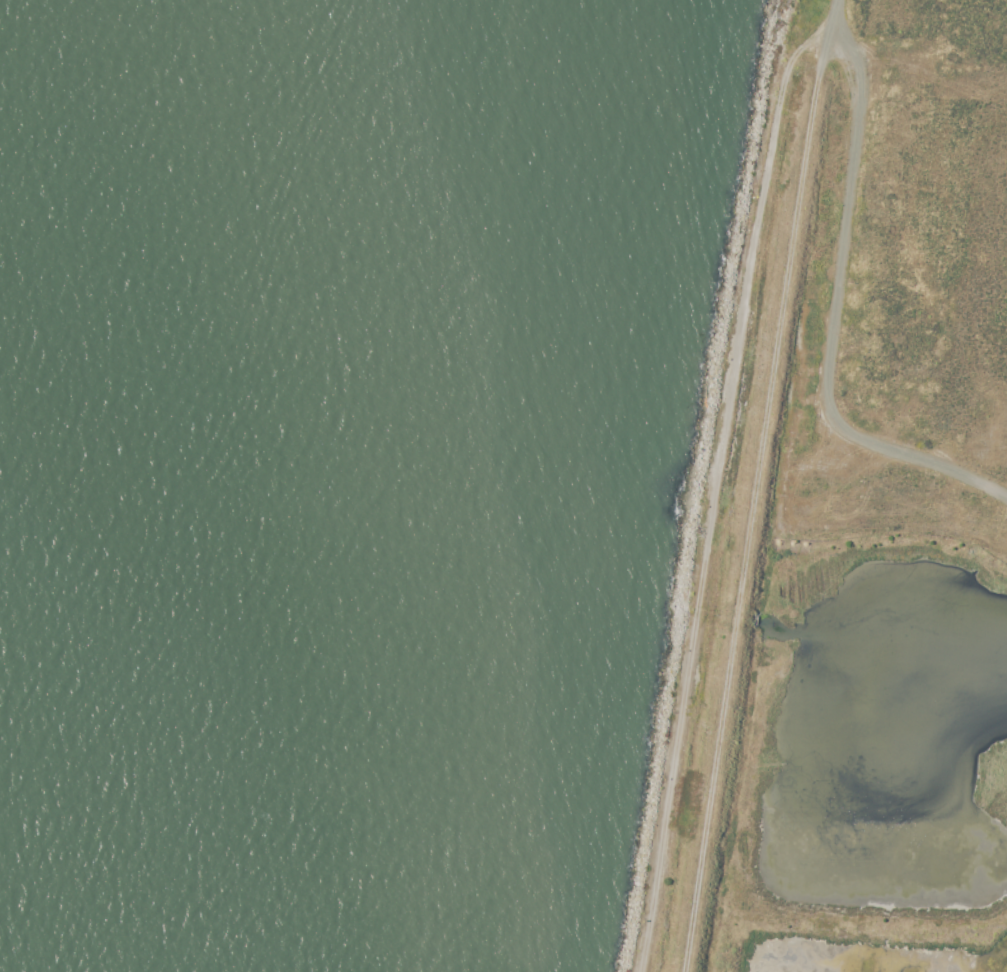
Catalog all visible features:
road: (754, 485)

